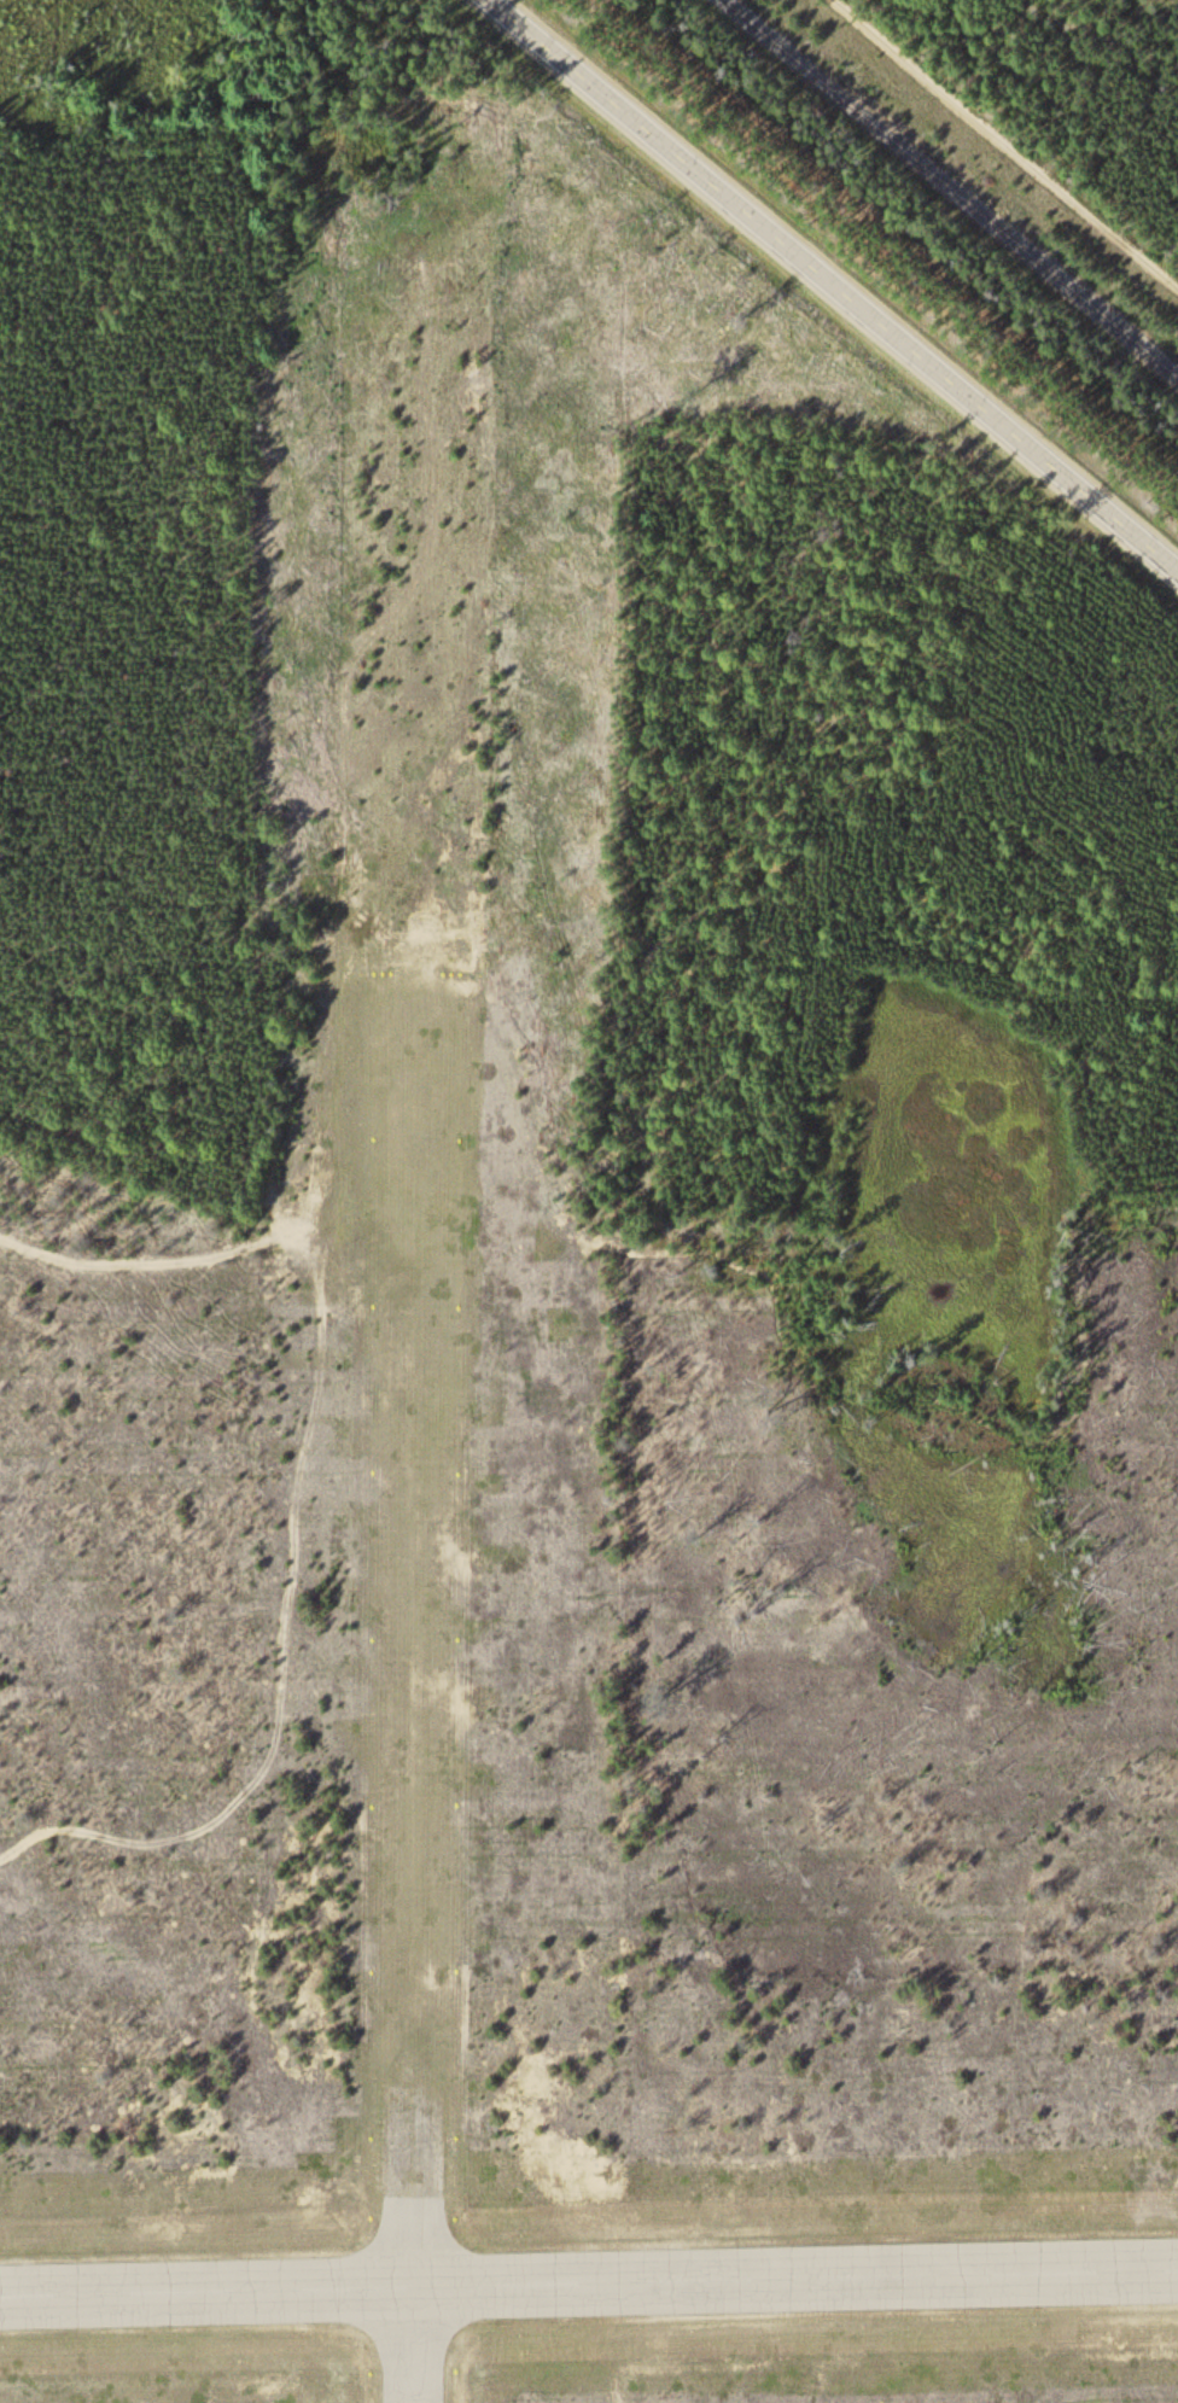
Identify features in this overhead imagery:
road: (1016, 136)
railway: (957, 191)
road: (840, 282)
road: (1017, 1437)
road: (293, 1483)
airport runway: (414, 1685)
airport runway: (589, 2280)

